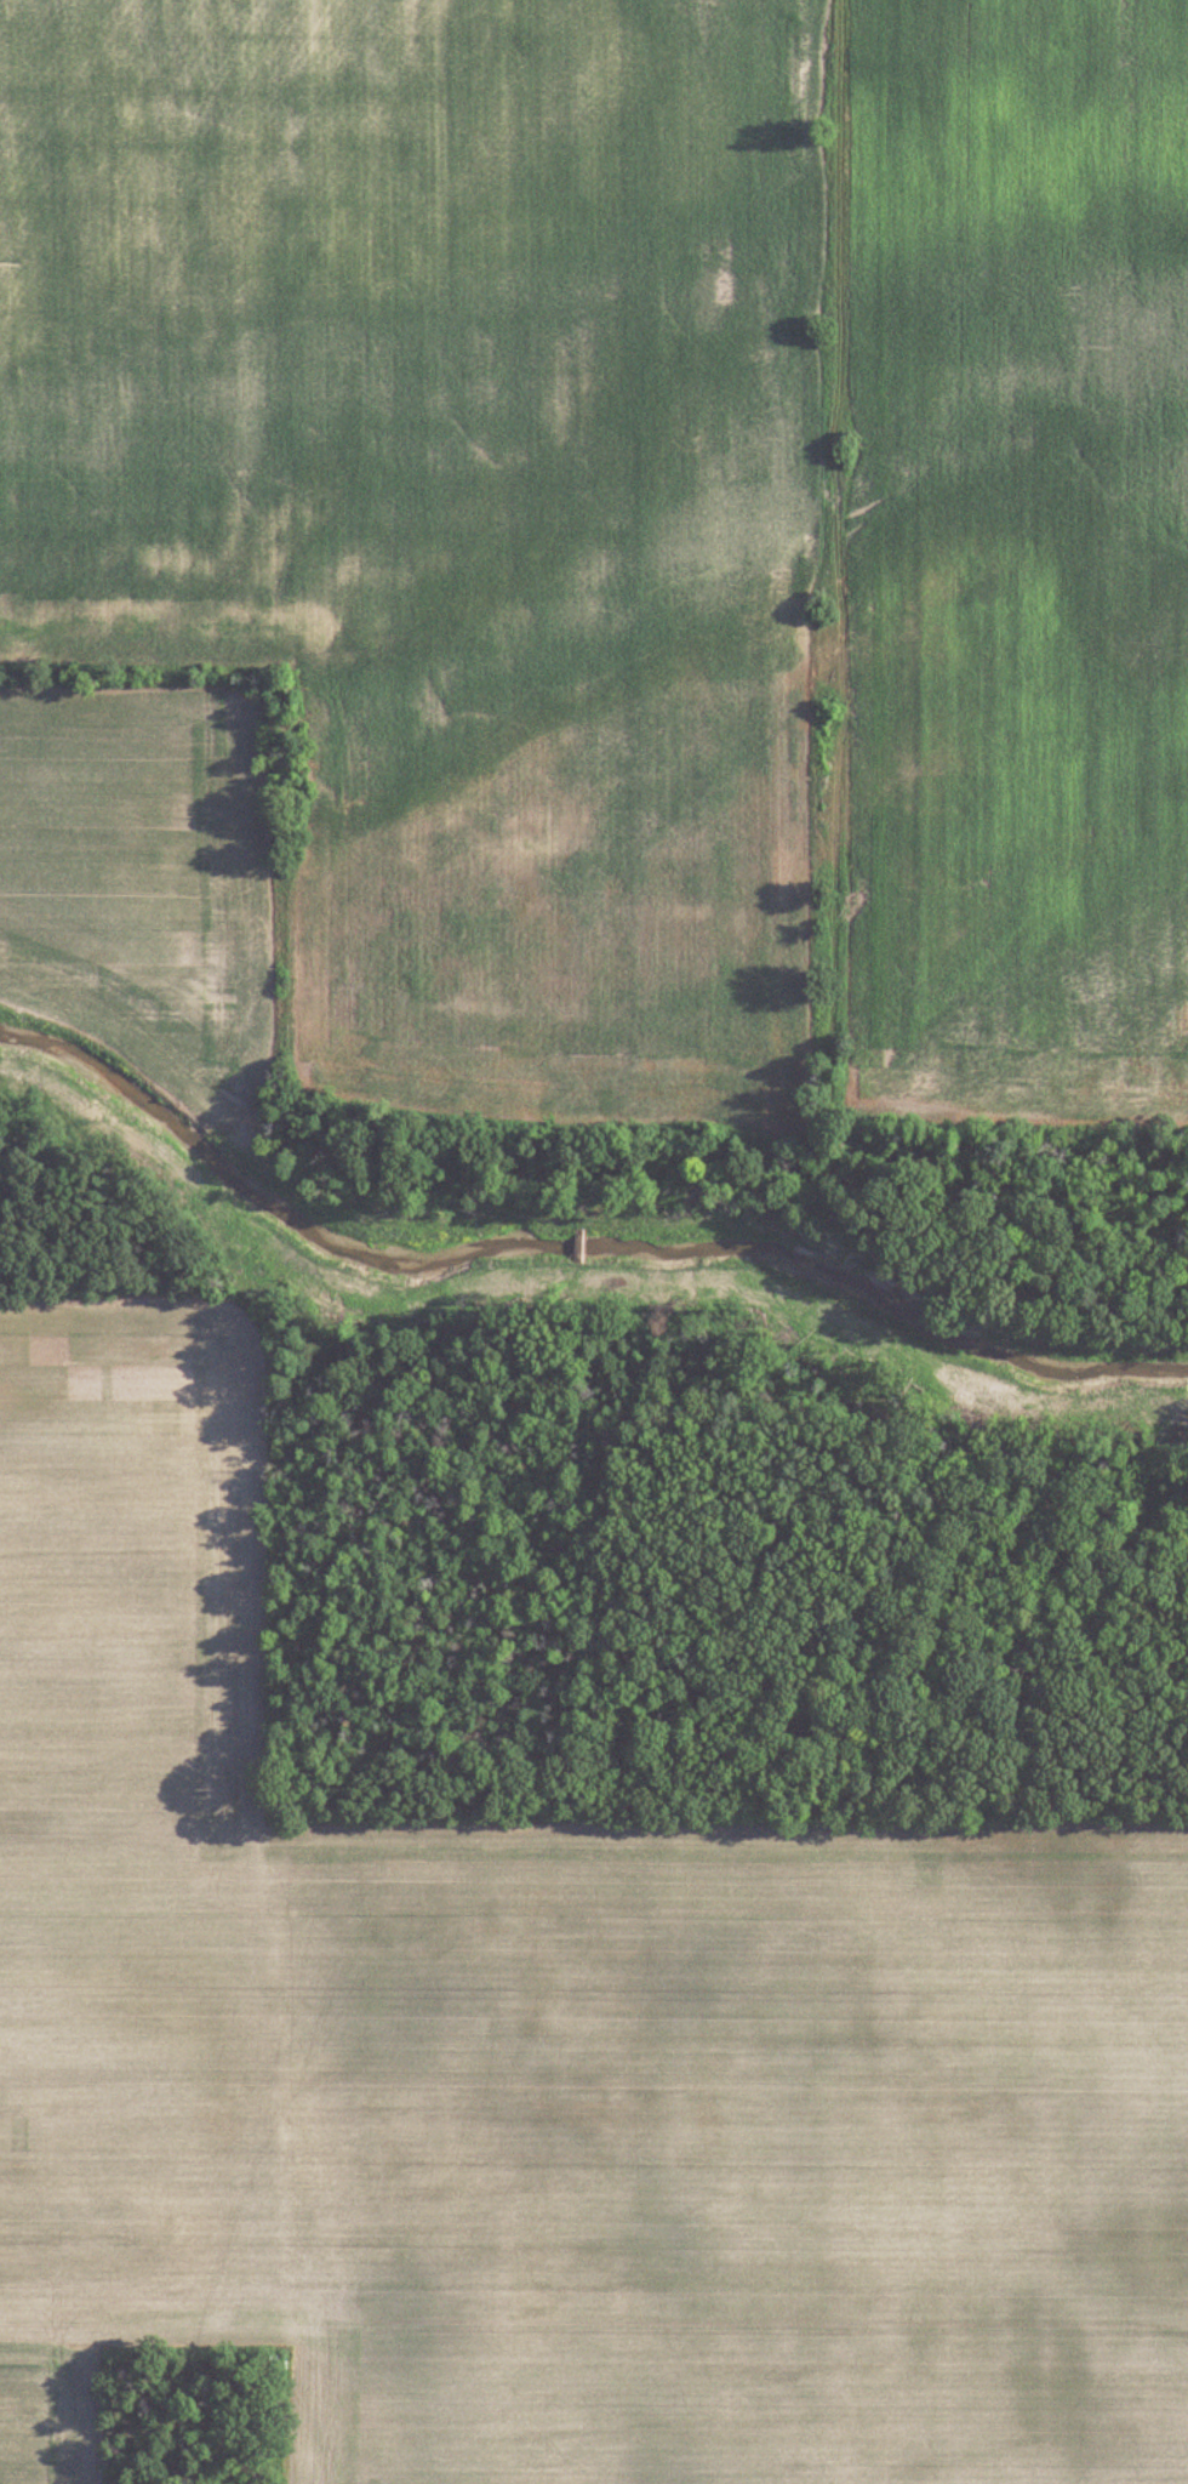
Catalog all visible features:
river: (572, 1243)

